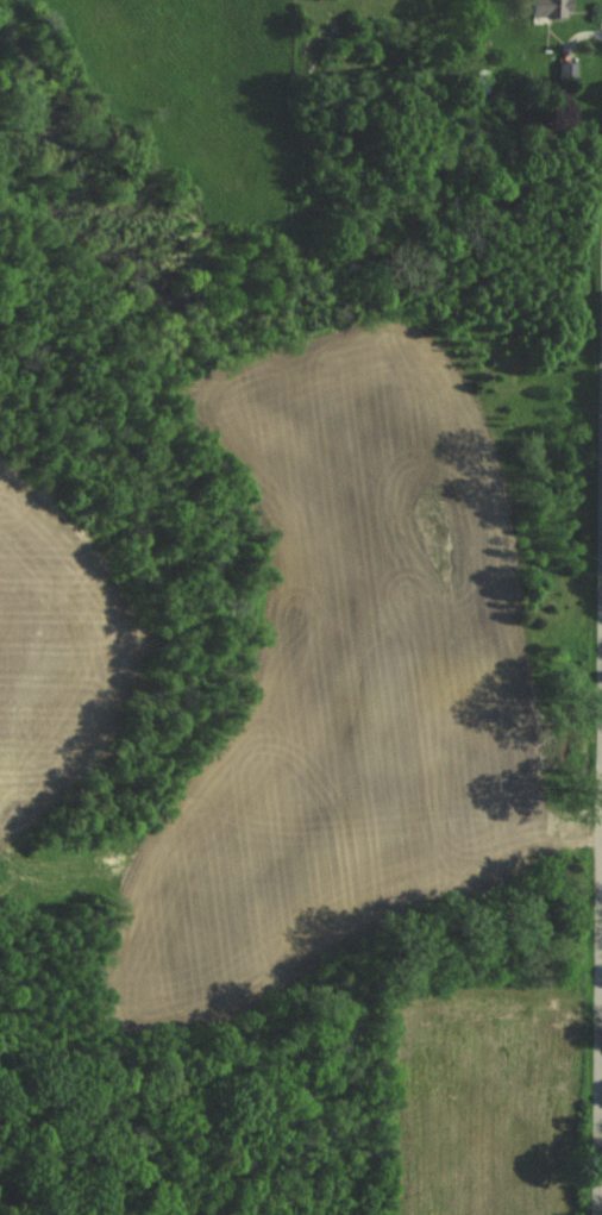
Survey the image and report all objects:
building: (547, 10)
building: (567, 73)

